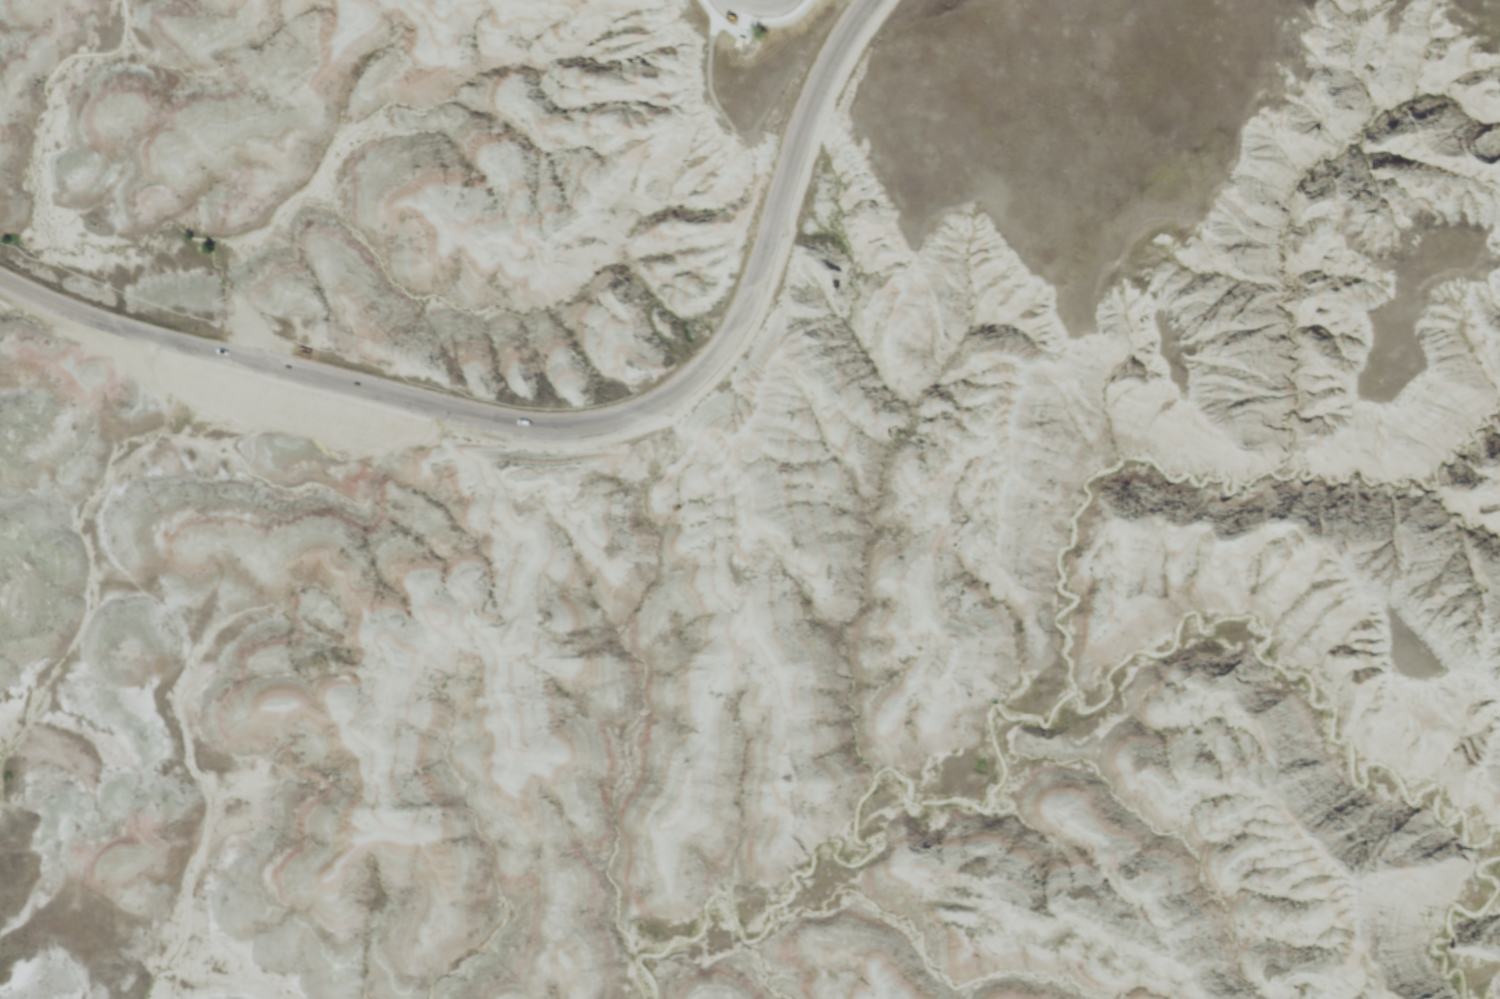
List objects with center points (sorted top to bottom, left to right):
road: (758, 6)
road: (713, 57)
road: (550, 420)

